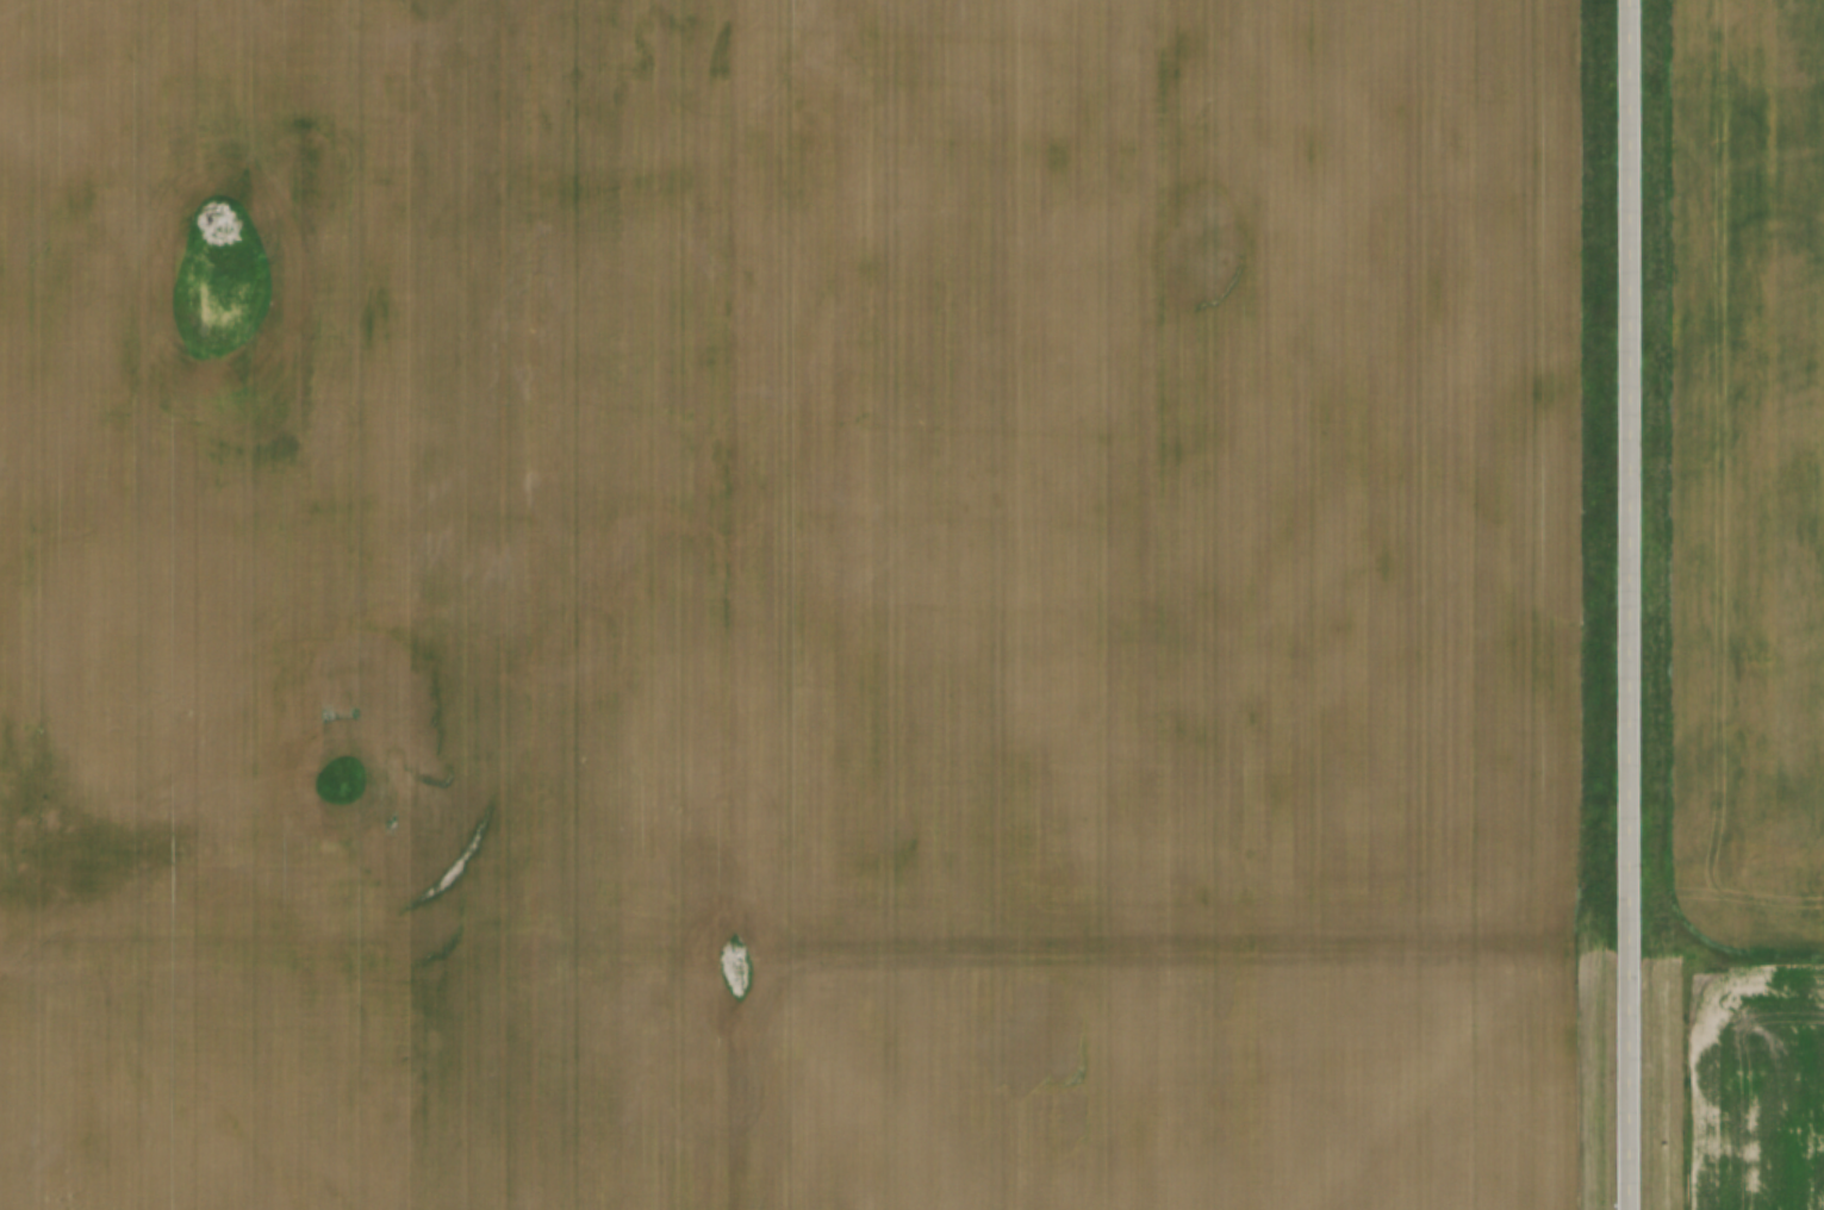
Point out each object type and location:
road: (1631, 604)
road: (1727, 940)

